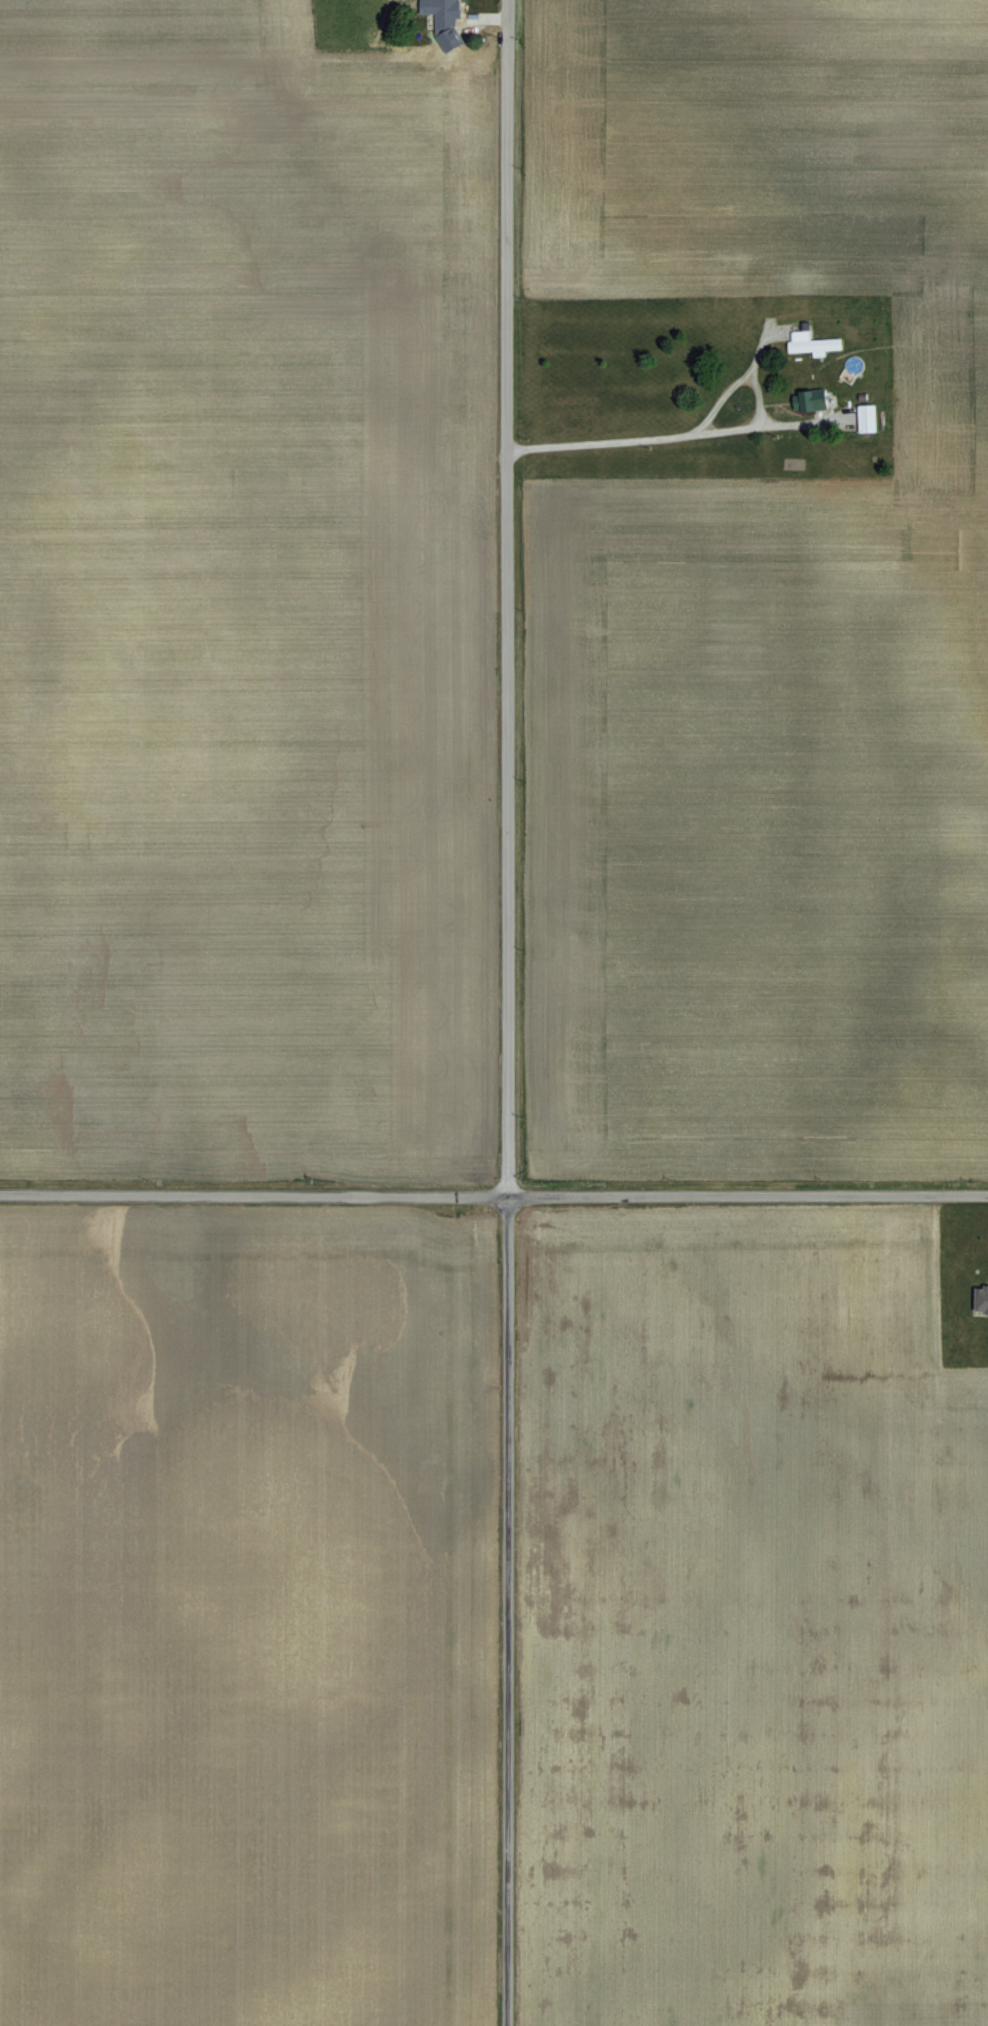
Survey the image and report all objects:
road: (751, 360)
road: (746, 424)
road: (660, 436)
road: (502, 1012)
road: (493, 1193)

